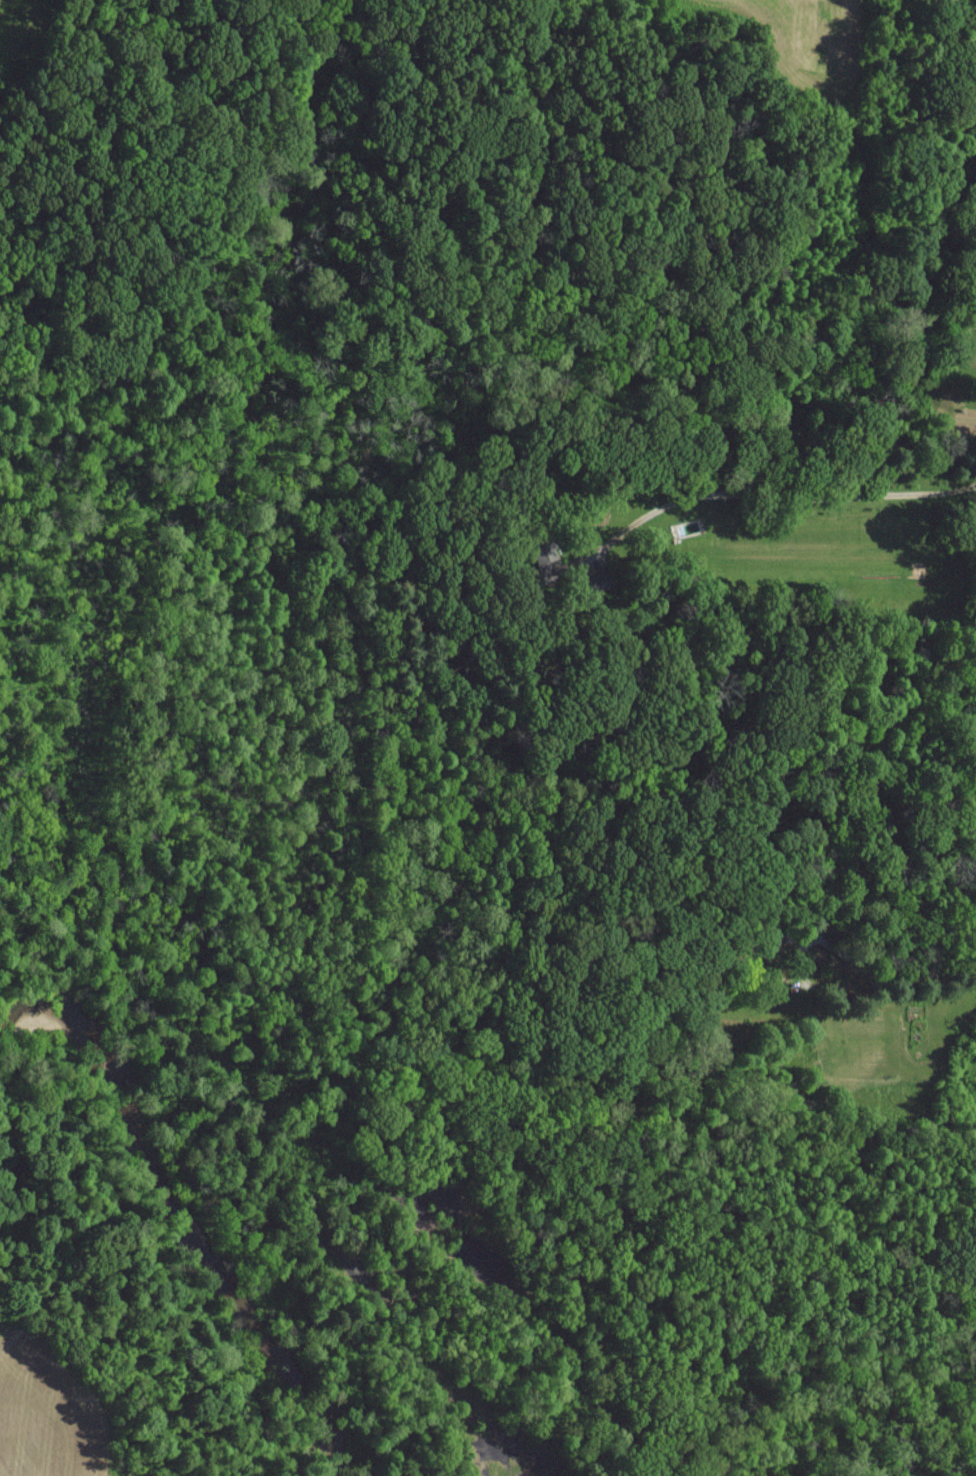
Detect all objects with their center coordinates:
road: (766, 493)
building: (600, 582)

